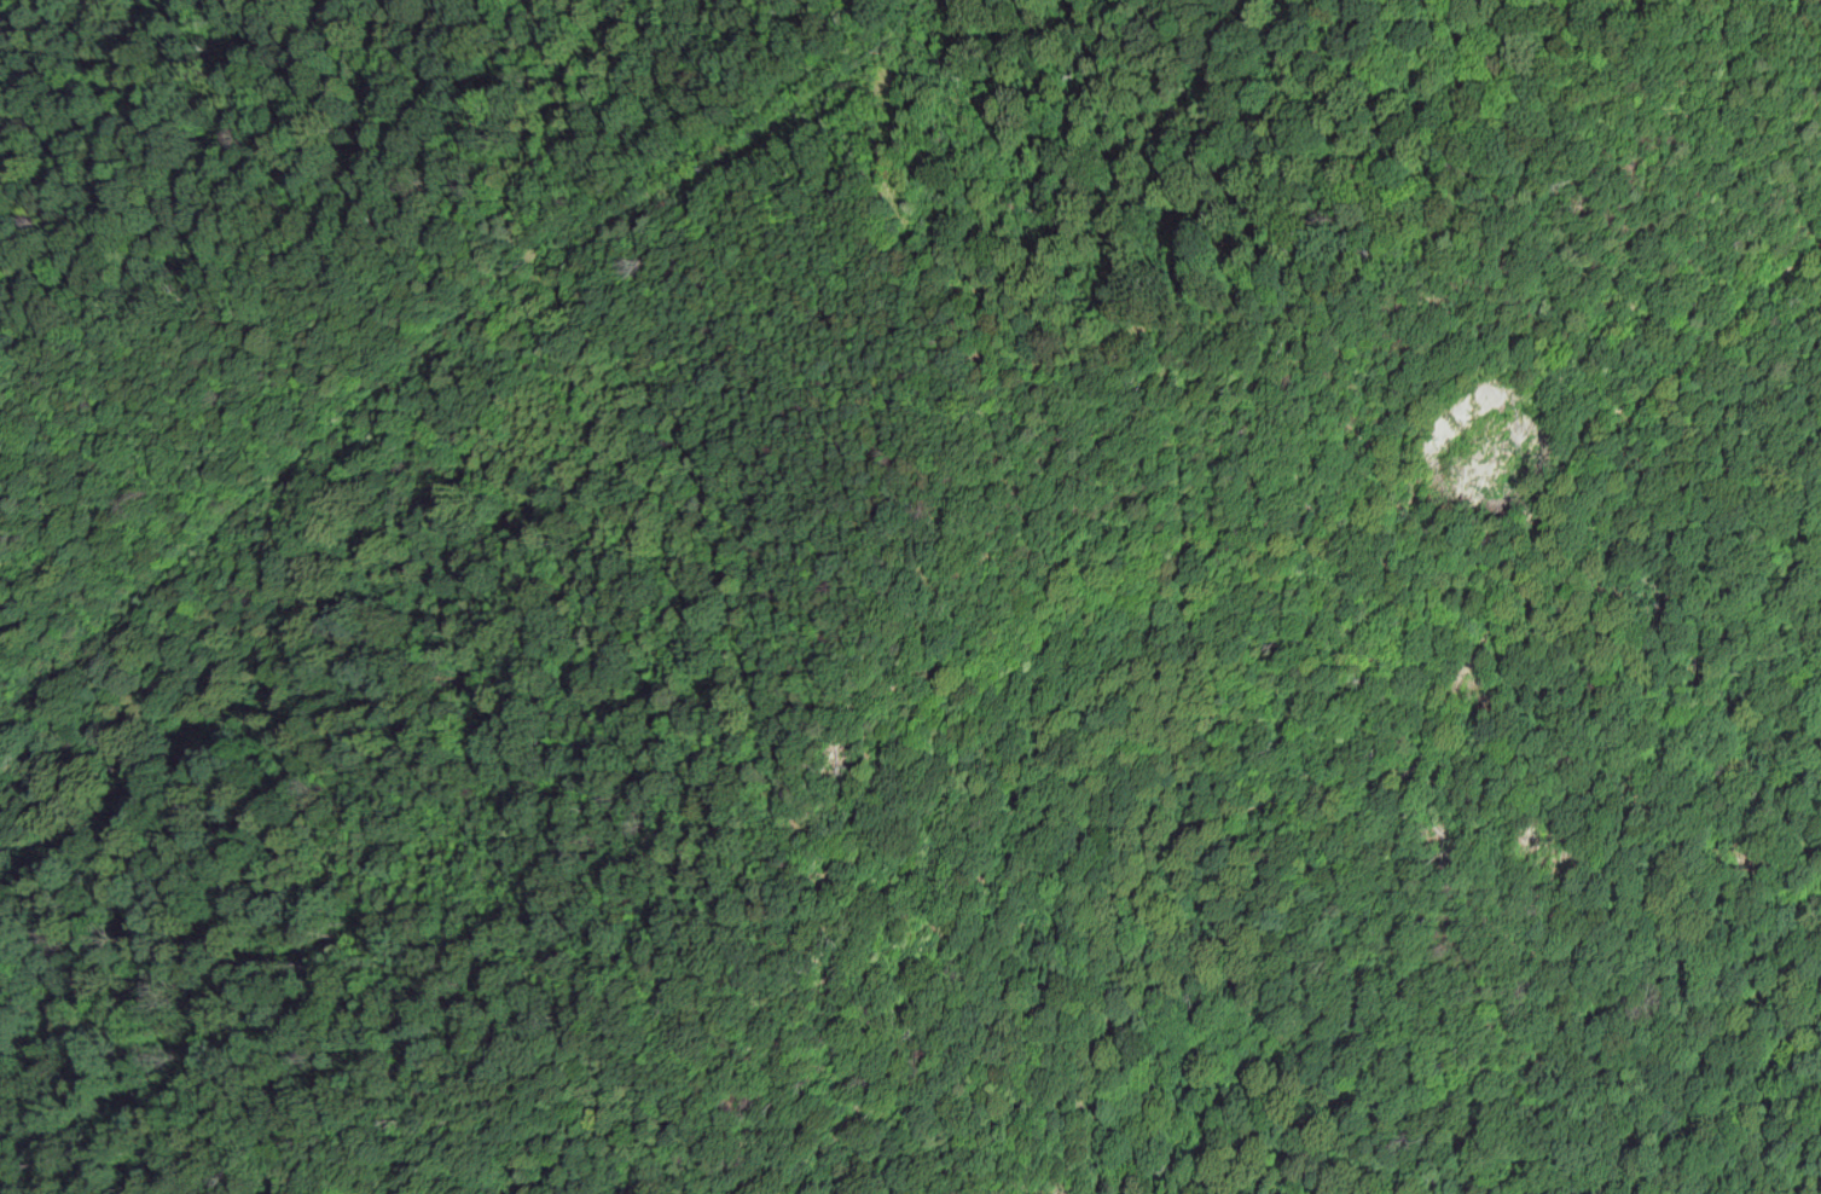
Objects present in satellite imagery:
road: (1353, 666)

